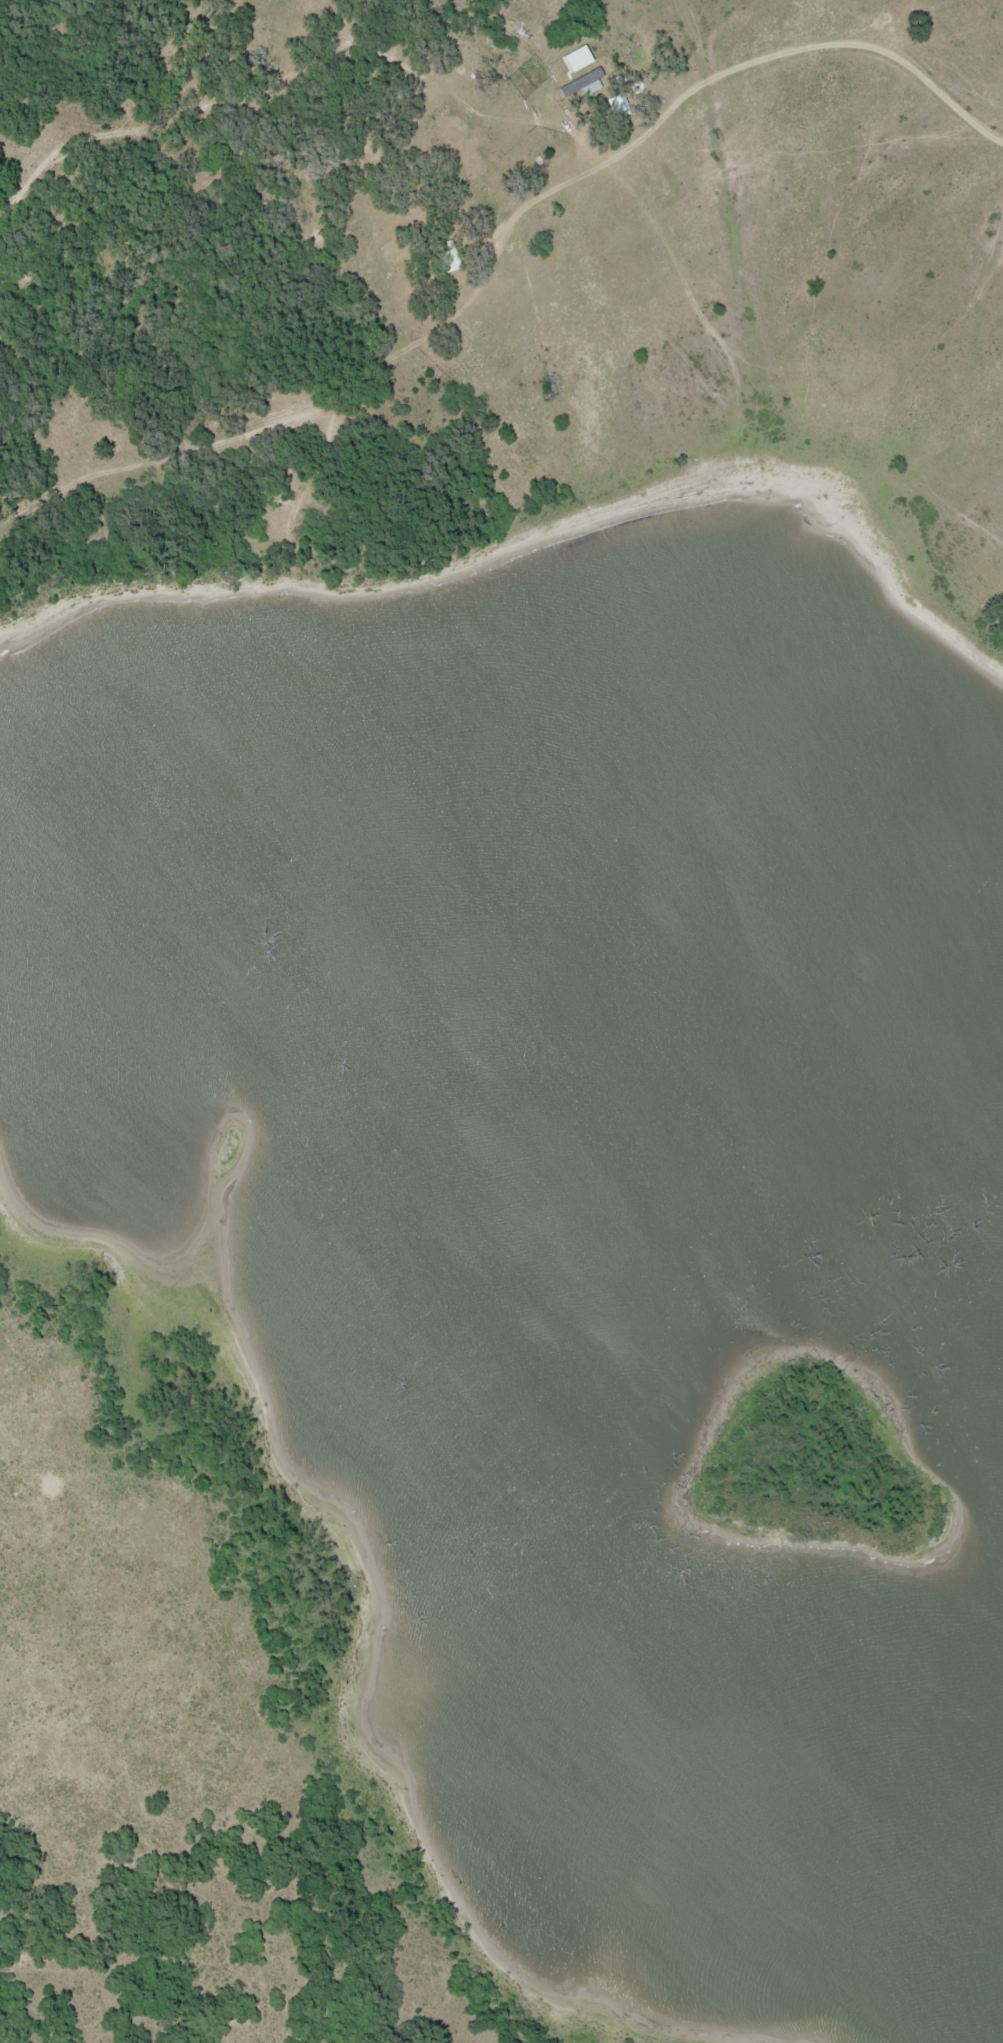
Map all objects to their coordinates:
building: (580, 80)

